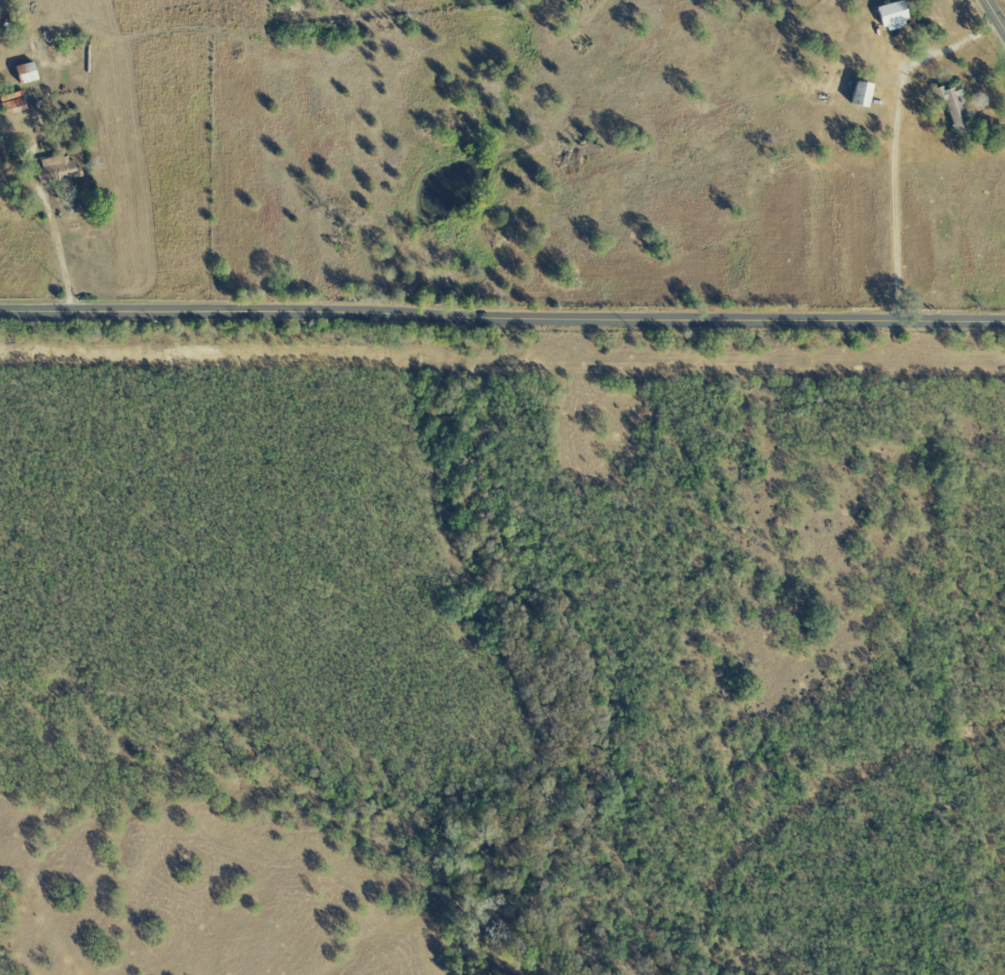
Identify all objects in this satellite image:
road: (995, 15)
building: (892, 17)
building: (25, 73)
building: (950, 104)
road: (894, 143)
building: (55, 171)
road: (65, 257)
road: (502, 321)

